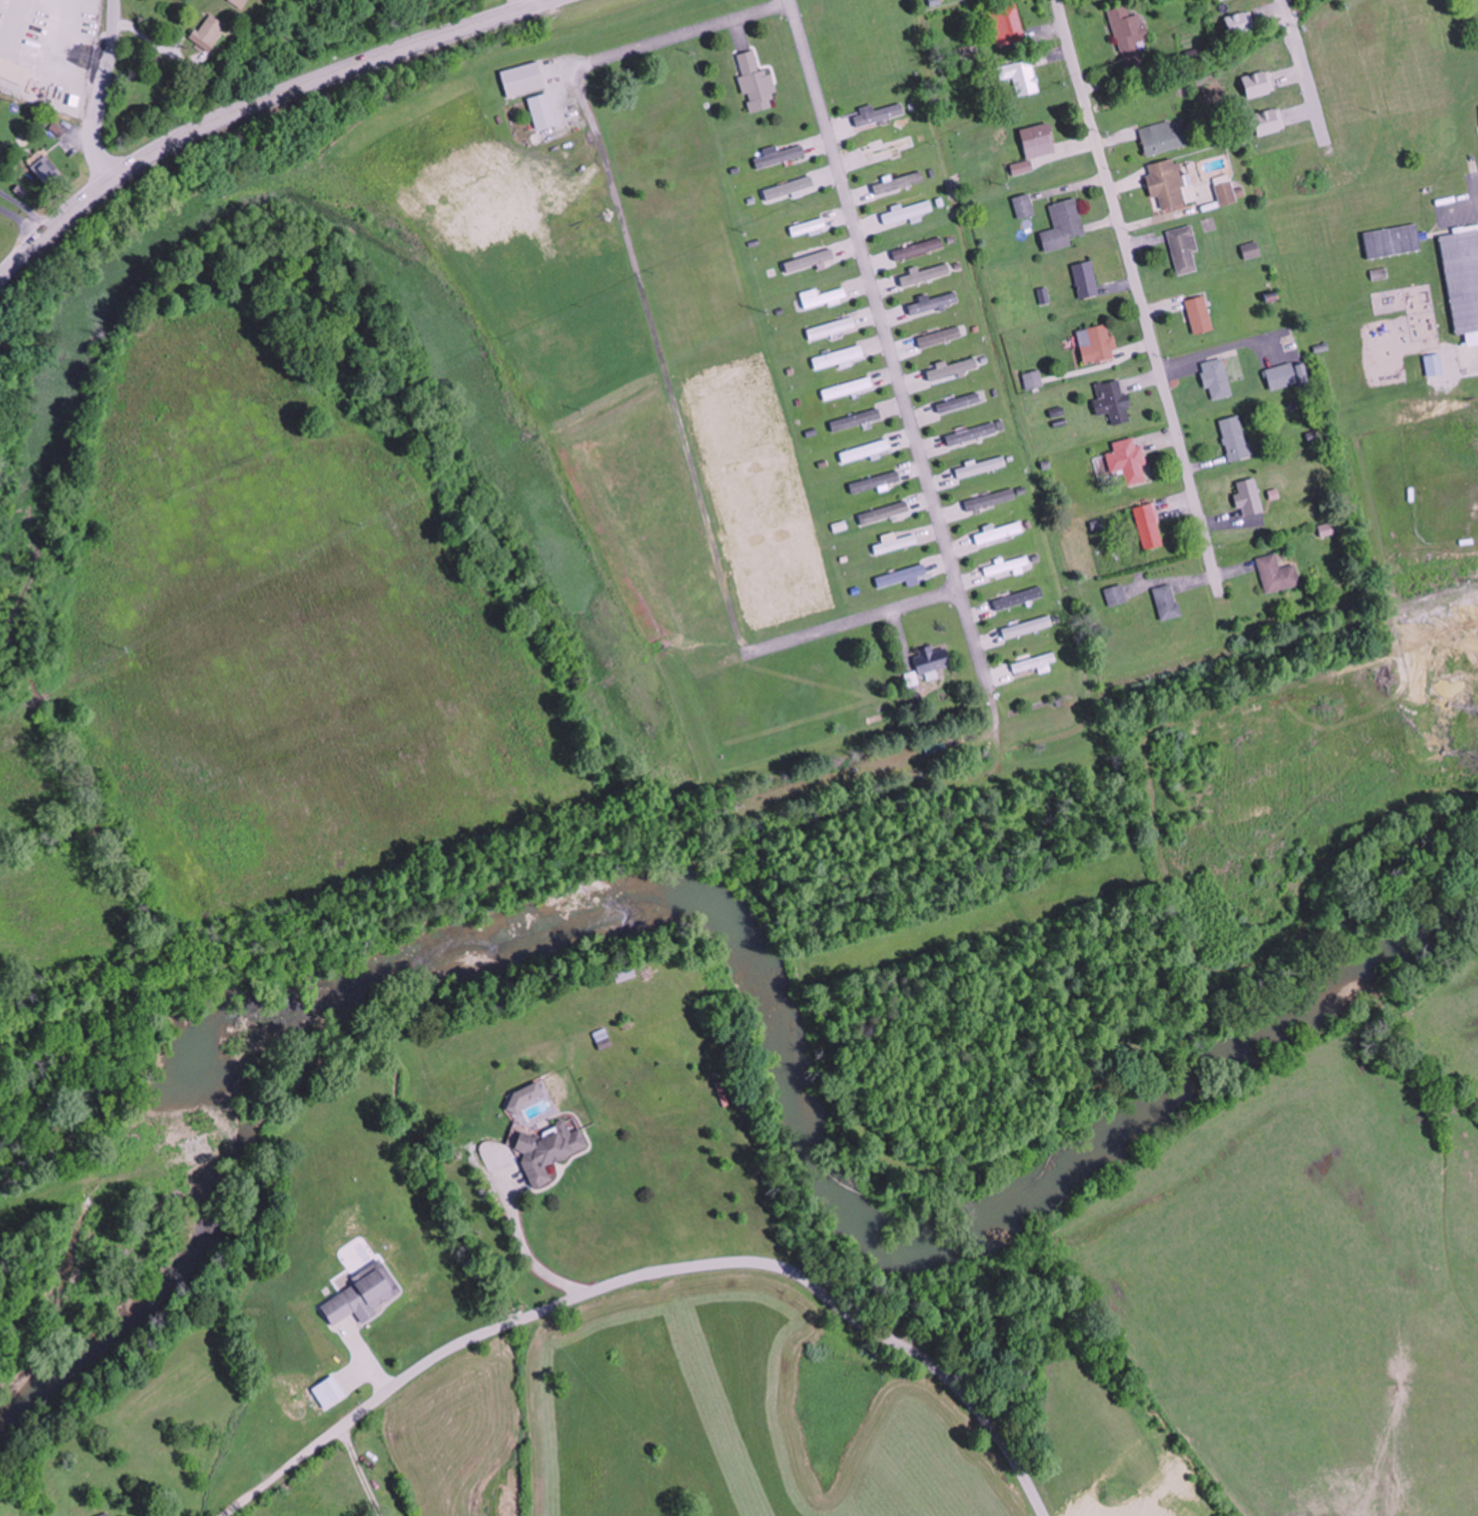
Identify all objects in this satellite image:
building: (237, 3)
building: (1240, 23)
building: (1007, 24)
building: (1128, 29)
building: (207, 33)
road: (1298, 58)
building: (1023, 78)
building: (522, 80)
building: (755, 84)
road: (102, 92)
road: (257, 103)
building: (542, 112)
building: (877, 114)
building: (1035, 137)
building: (1163, 138)
building: (888, 148)
building: (779, 157)
building: (44, 173)
building: (898, 183)
building: (1167, 183)
building: (788, 190)
building: (1226, 194)
building: (1023, 207)
building: (907, 213)
road: (26, 215)
building: (818, 224)
building: (1062, 227)
building: (1393, 242)
building: (917, 250)
building: (1183, 250)
building: (1251, 251)
building: (925, 276)
building: (1085, 281)
building: (1463, 281)
road: (1138, 295)
building: (821, 297)
building: (932, 304)
building: (1199, 315)
building: (831, 328)
road: (886, 337)
building: (939, 337)
building: (1096, 342)
building: (838, 357)
road: (660, 363)
building: (1434, 364)
building: (952, 369)
building: (1284, 375)
building: (1217, 378)
building: (1033, 379)
building: (847, 388)
building: (1113, 400)
building: (958, 402)
building: (855, 419)
building: (971, 433)
building: (1235, 437)
building: (865, 450)
building: (1128, 459)
building: (981, 467)
building: (874, 481)
building: (1249, 496)
building: (990, 498)
building: (1148, 525)
building: (1328, 528)
building: (999, 532)
building: (894, 542)
building: (1009, 565)
building: (1277, 573)
building: (903, 576)
building: (1116, 595)
building: (1018, 598)
building: (1167, 601)
building: (1027, 627)
building: (932, 660)
building: (1034, 662)
river: (741, 934)
building: (547, 1150)
road: (651, 1279)
building: (101, 1515)

